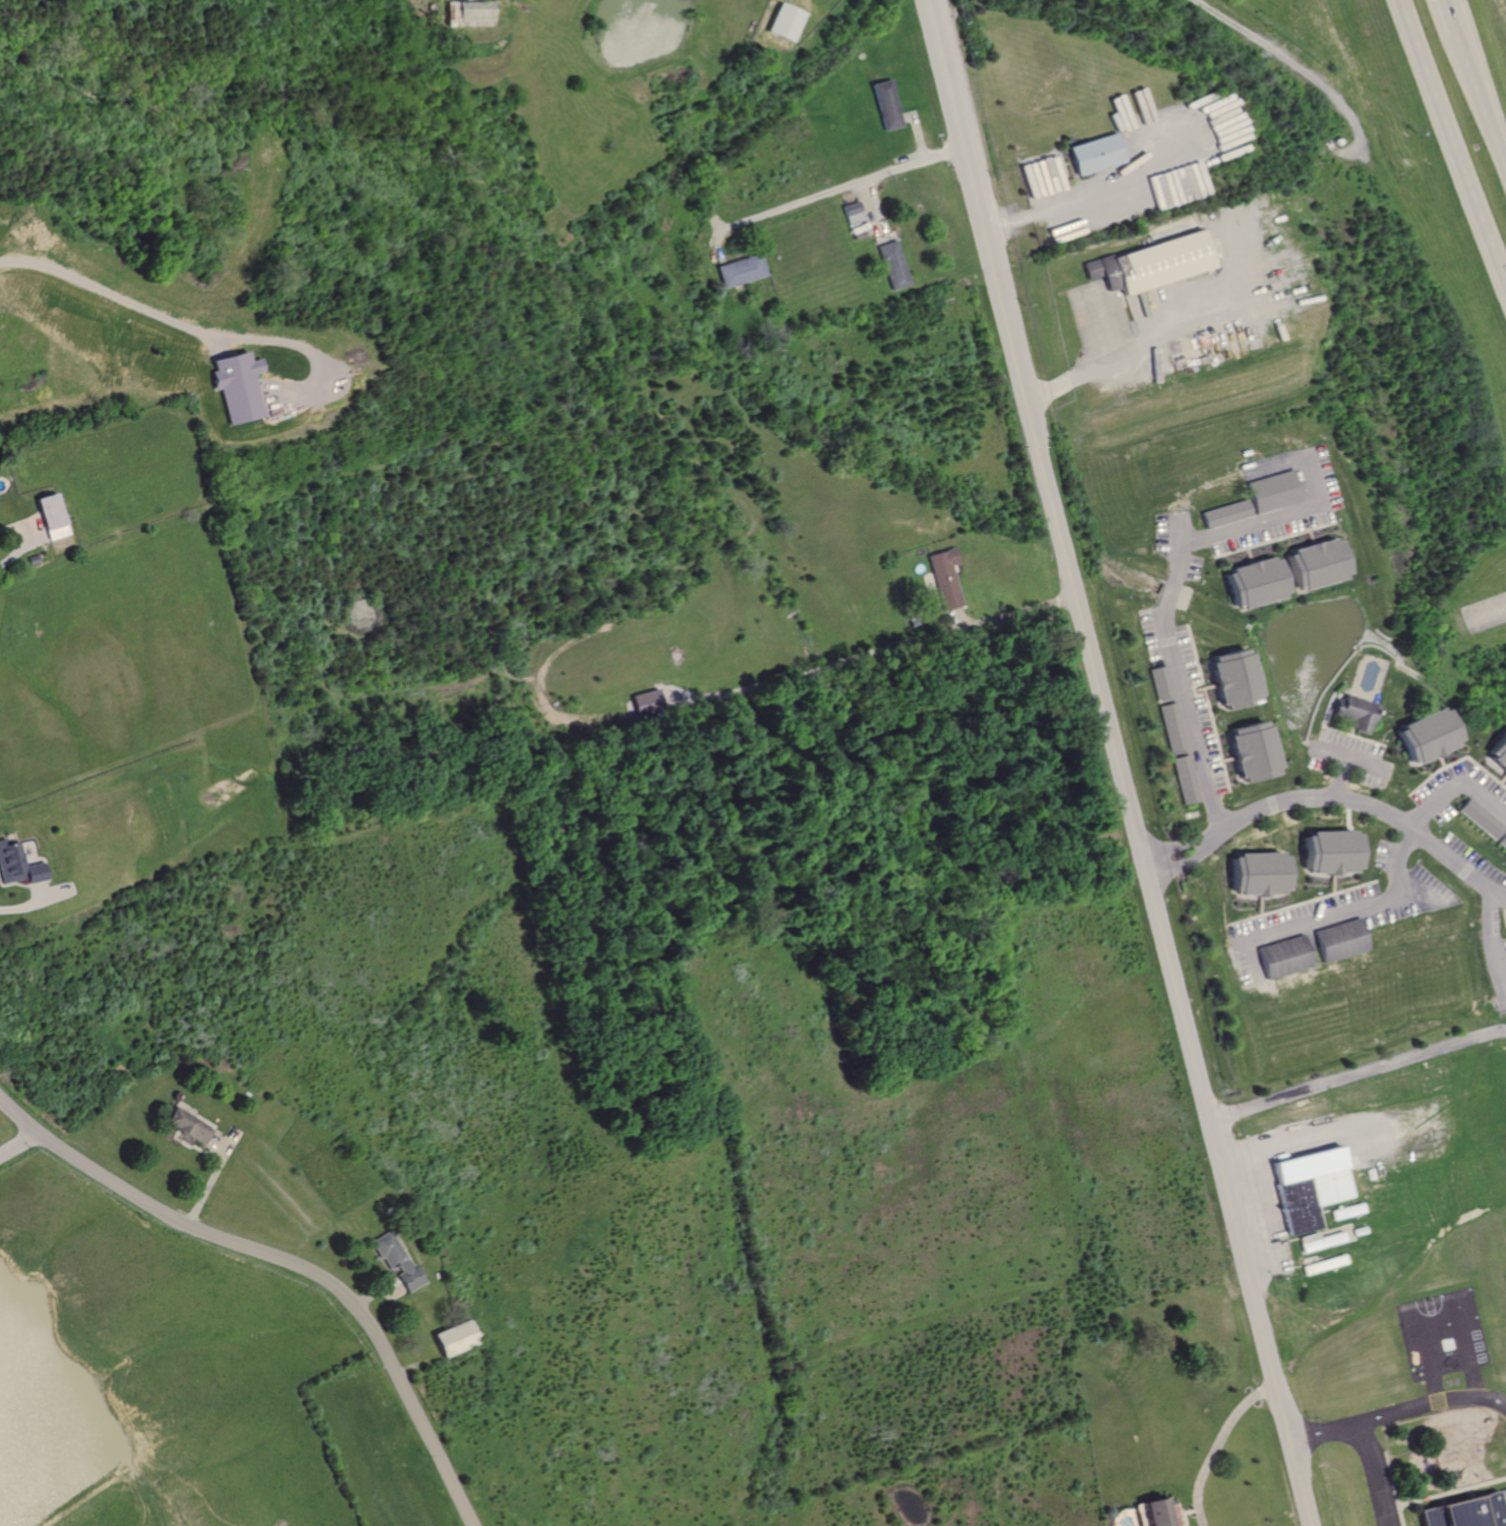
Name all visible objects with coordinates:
building: (462, 12)
road: (1443, 15)
building: (784, 21)
road: (1477, 103)
building: (887, 104)
road: (1450, 145)
building: (1093, 154)
road: (844, 184)
road: (1049, 204)
building: (851, 211)
building: (893, 264)
building: (1153, 264)
building: (739, 270)
road: (180, 324)
road: (1130, 347)
building: (231, 385)
building: (1272, 491)
building: (1224, 514)
building: (49, 515)
road: (16, 546)
building: (1315, 563)
building: (945, 577)
building: (1254, 582)
road: (1009, 610)
road: (1166, 617)
road: (1485, 617)
building: (1233, 678)
building: (1159, 682)
building: (644, 702)
building: (1354, 712)
building: (1170, 727)
building: (1427, 735)
building: (1251, 751)
building: (1499, 754)
road: (1114, 764)
building: (1184, 779)
road: (1452, 783)
road: (1365, 807)
building: (1483, 821)
road: (1174, 845)
building: (1330, 852)
road: (1180, 861)
building: (16, 866)
building: (1257, 873)
road: (31, 903)
road: (1355, 903)
road: (1495, 923)
building: (1339, 940)
building: (1282, 957)
road: (1356, 1073)
building: (185, 1126)
road: (1294, 1140)
road: (17, 1145)
building: (1311, 1186)
road: (1260, 1218)
building: (1319, 1241)
building: (396, 1260)
road: (288, 1262)
park: (1432, 1311)
building: (453, 1338)
park: (1447, 1346)
road: (1425, 1403)
road: (1214, 1443)
road: (1365, 1446)
building: (1468, 1511)
building: (1151, 1513)

